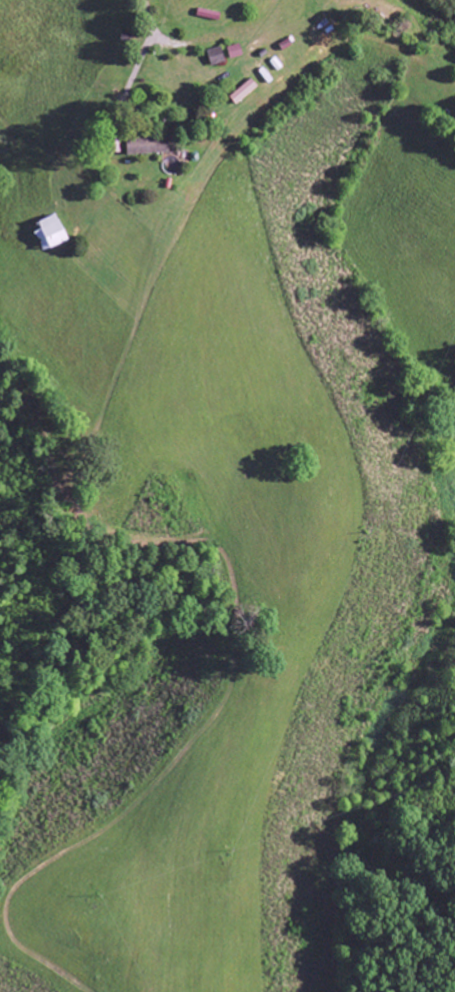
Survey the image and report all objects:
building: (238, 50)
building: (220, 55)
building: (248, 90)
building: (154, 144)
building: (52, 232)

